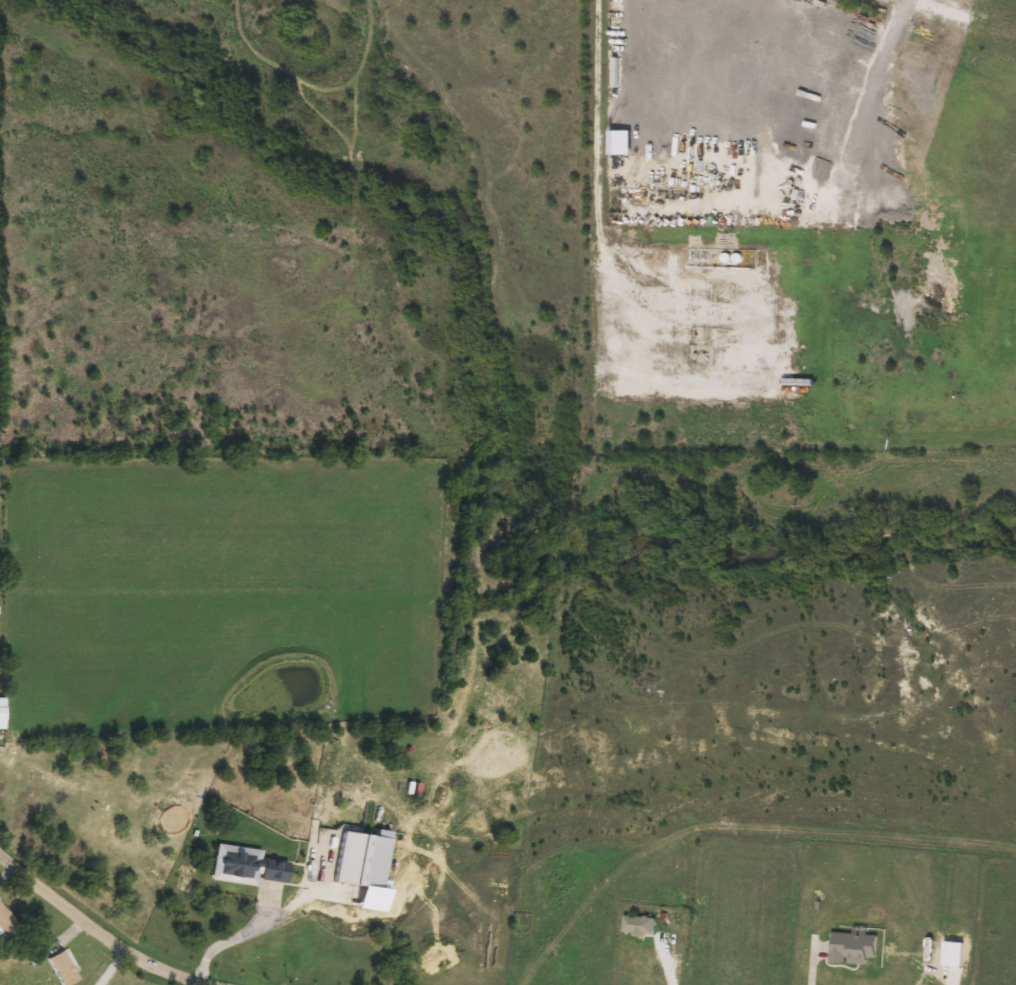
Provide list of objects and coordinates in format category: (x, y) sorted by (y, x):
road: (693, 127)
building: (360, 861)
building: (244, 866)
building: (6, 924)
building: (638, 926)
road: (97, 930)
road: (253, 930)
road: (105, 964)
building: (61, 969)

